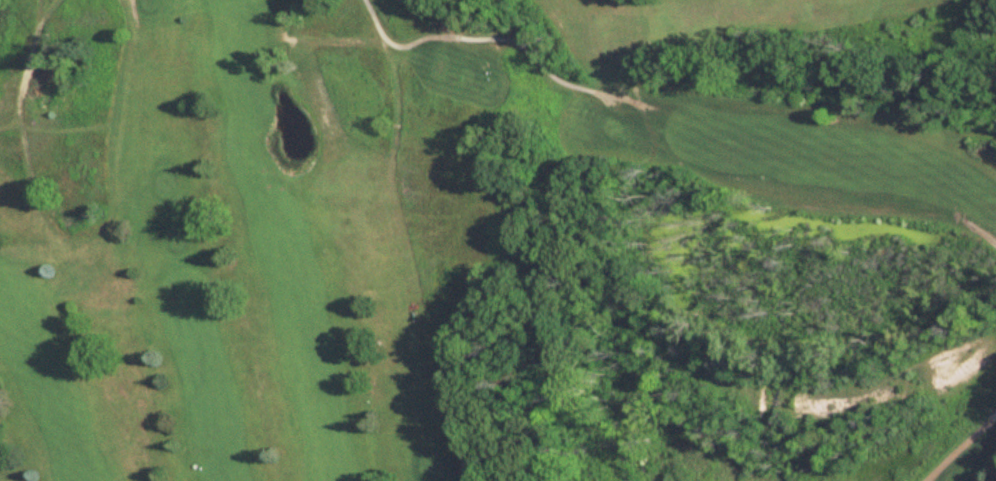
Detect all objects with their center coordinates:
park: (498, 240)

